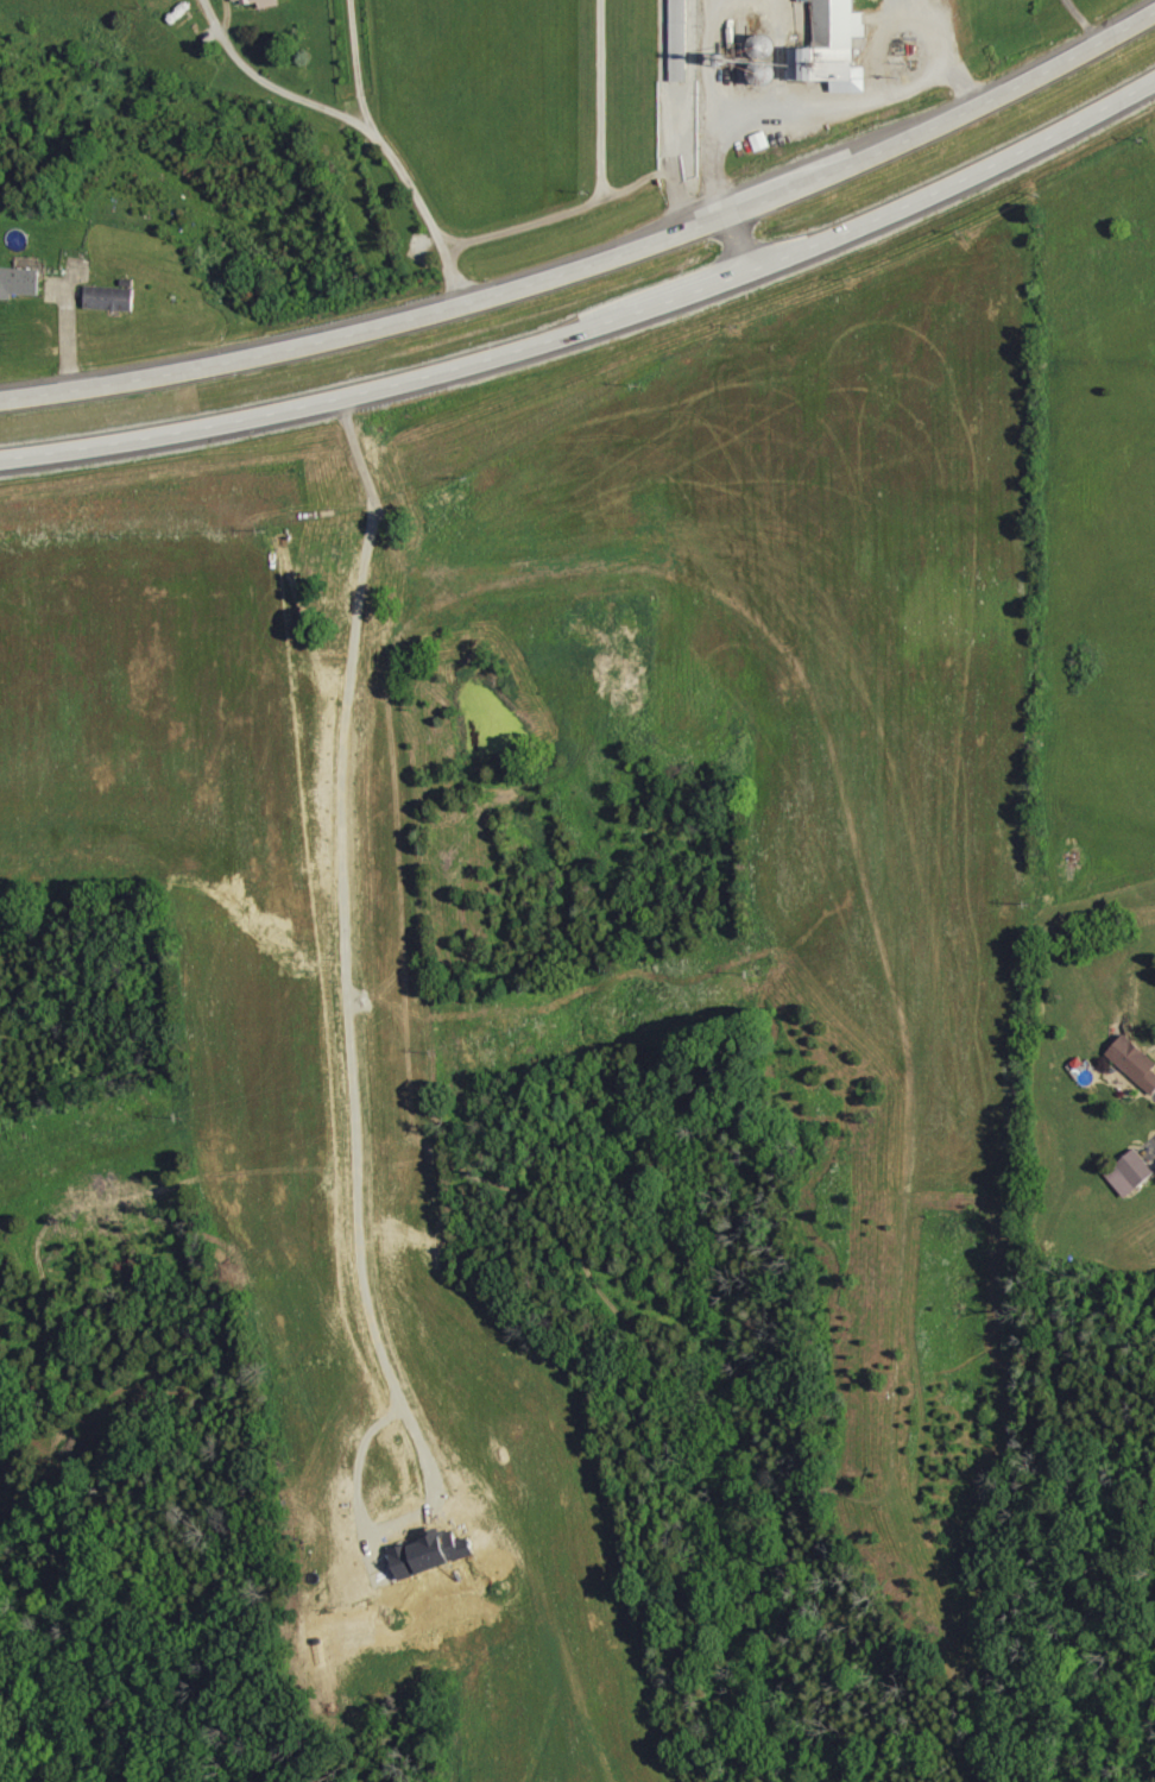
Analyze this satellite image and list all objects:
building: (259, 2)
road: (1083, 21)
road: (929, 32)
building: (833, 48)
road: (968, 86)
road: (996, 100)
road: (600, 101)
road: (328, 113)
road: (784, 117)
building: (760, 140)
road: (955, 185)
road: (718, 194)
road: (777, 194)
road: (554, 219)
building: (19, 282)
road: (695, 289)
building: (111, 297)
road: (367, 330)
road: (65, 336)
road: (326, 404)
building: (1135, 1062)
building: (1131, 1173)

